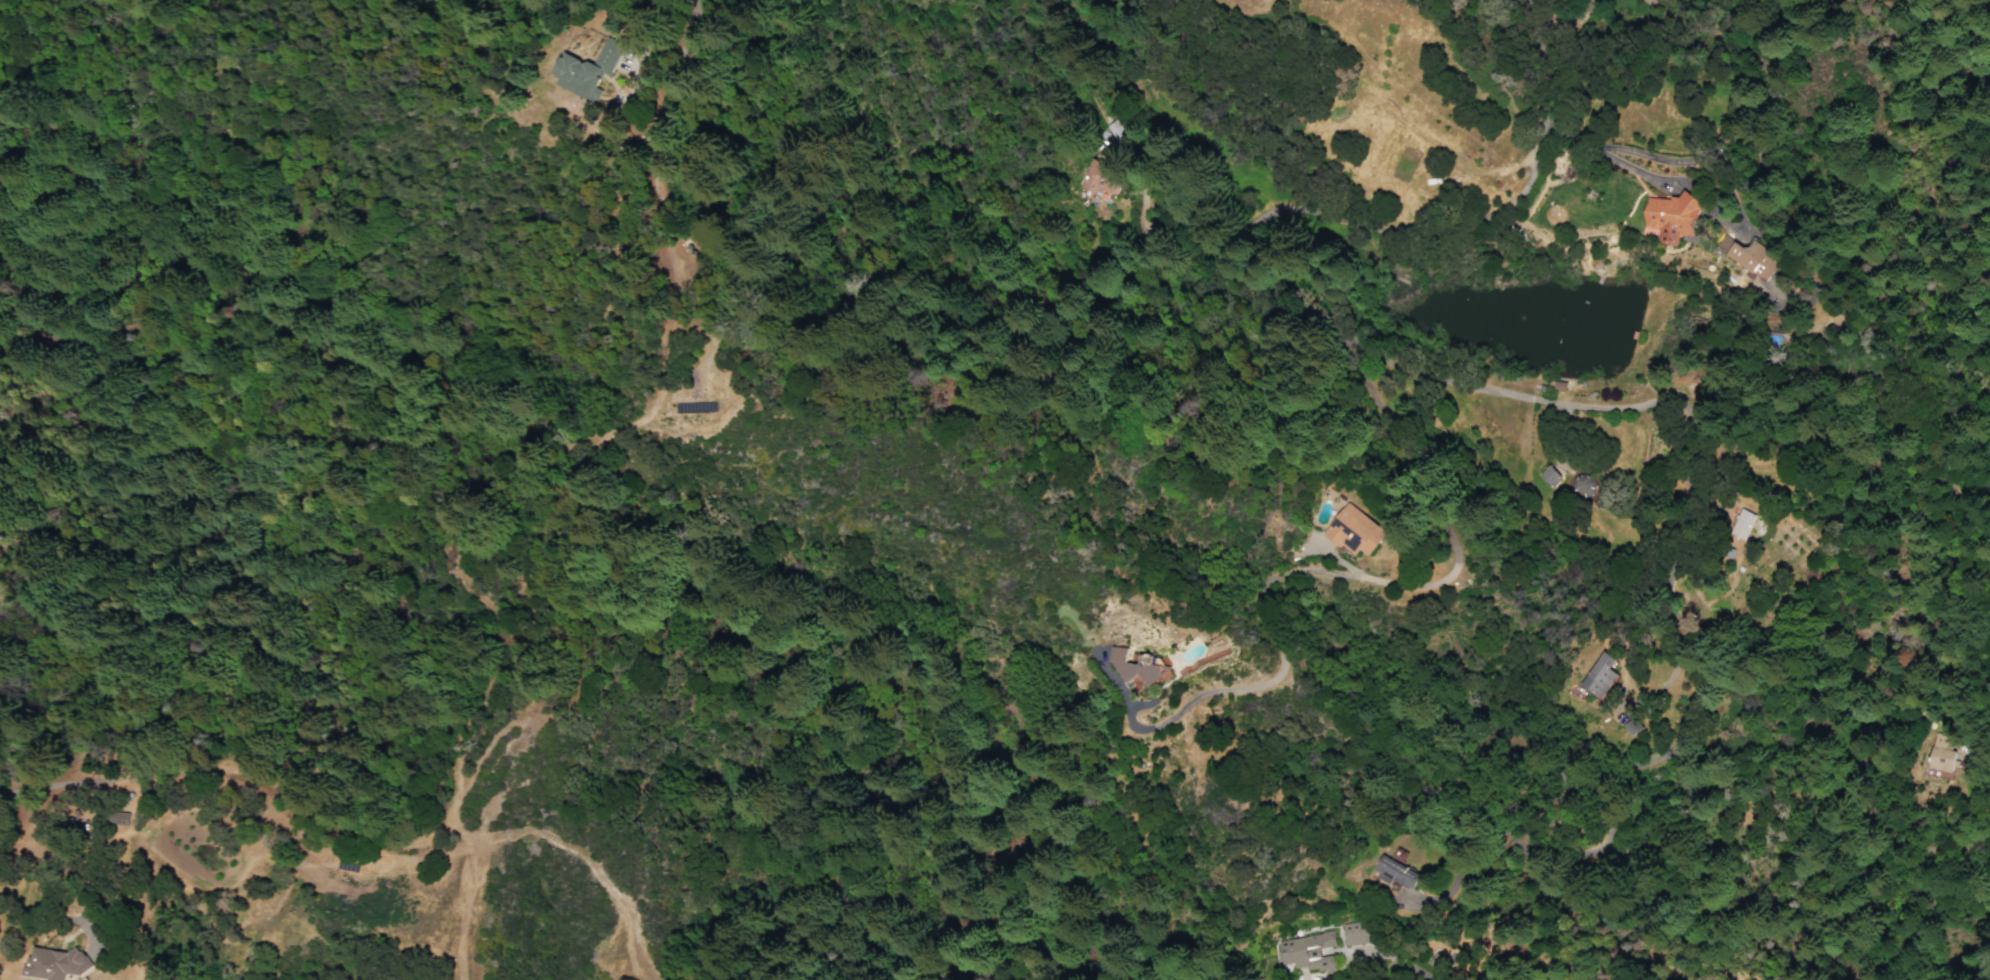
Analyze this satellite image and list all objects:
building: (587, 68)
road: (1512, 96)
road: (1099, 142)
building: (1094, 182)
road: (1300, 207)
building: (1672, 217)
building: (1751, 257)
crop: (0, 309)
road: (1779, 322)
road: (1407, 360)
building: (1547, 475)
building: (1577, 484)
road: (564, 491)
building: (1744, 527)
building: (1354, 535)
road: (1378, 579)
building: (1135, 668)
building: (1601, 678)
building: (1630, 726)
building: (1940, 757)
road: (161, 779)
building: (119, 818)
road: (532, 834)
road: (462, 835)
road: (75, 866)
building: (1396, 881)
road: (411, 894)
building: (1327, 952)
building: (58, 964)

